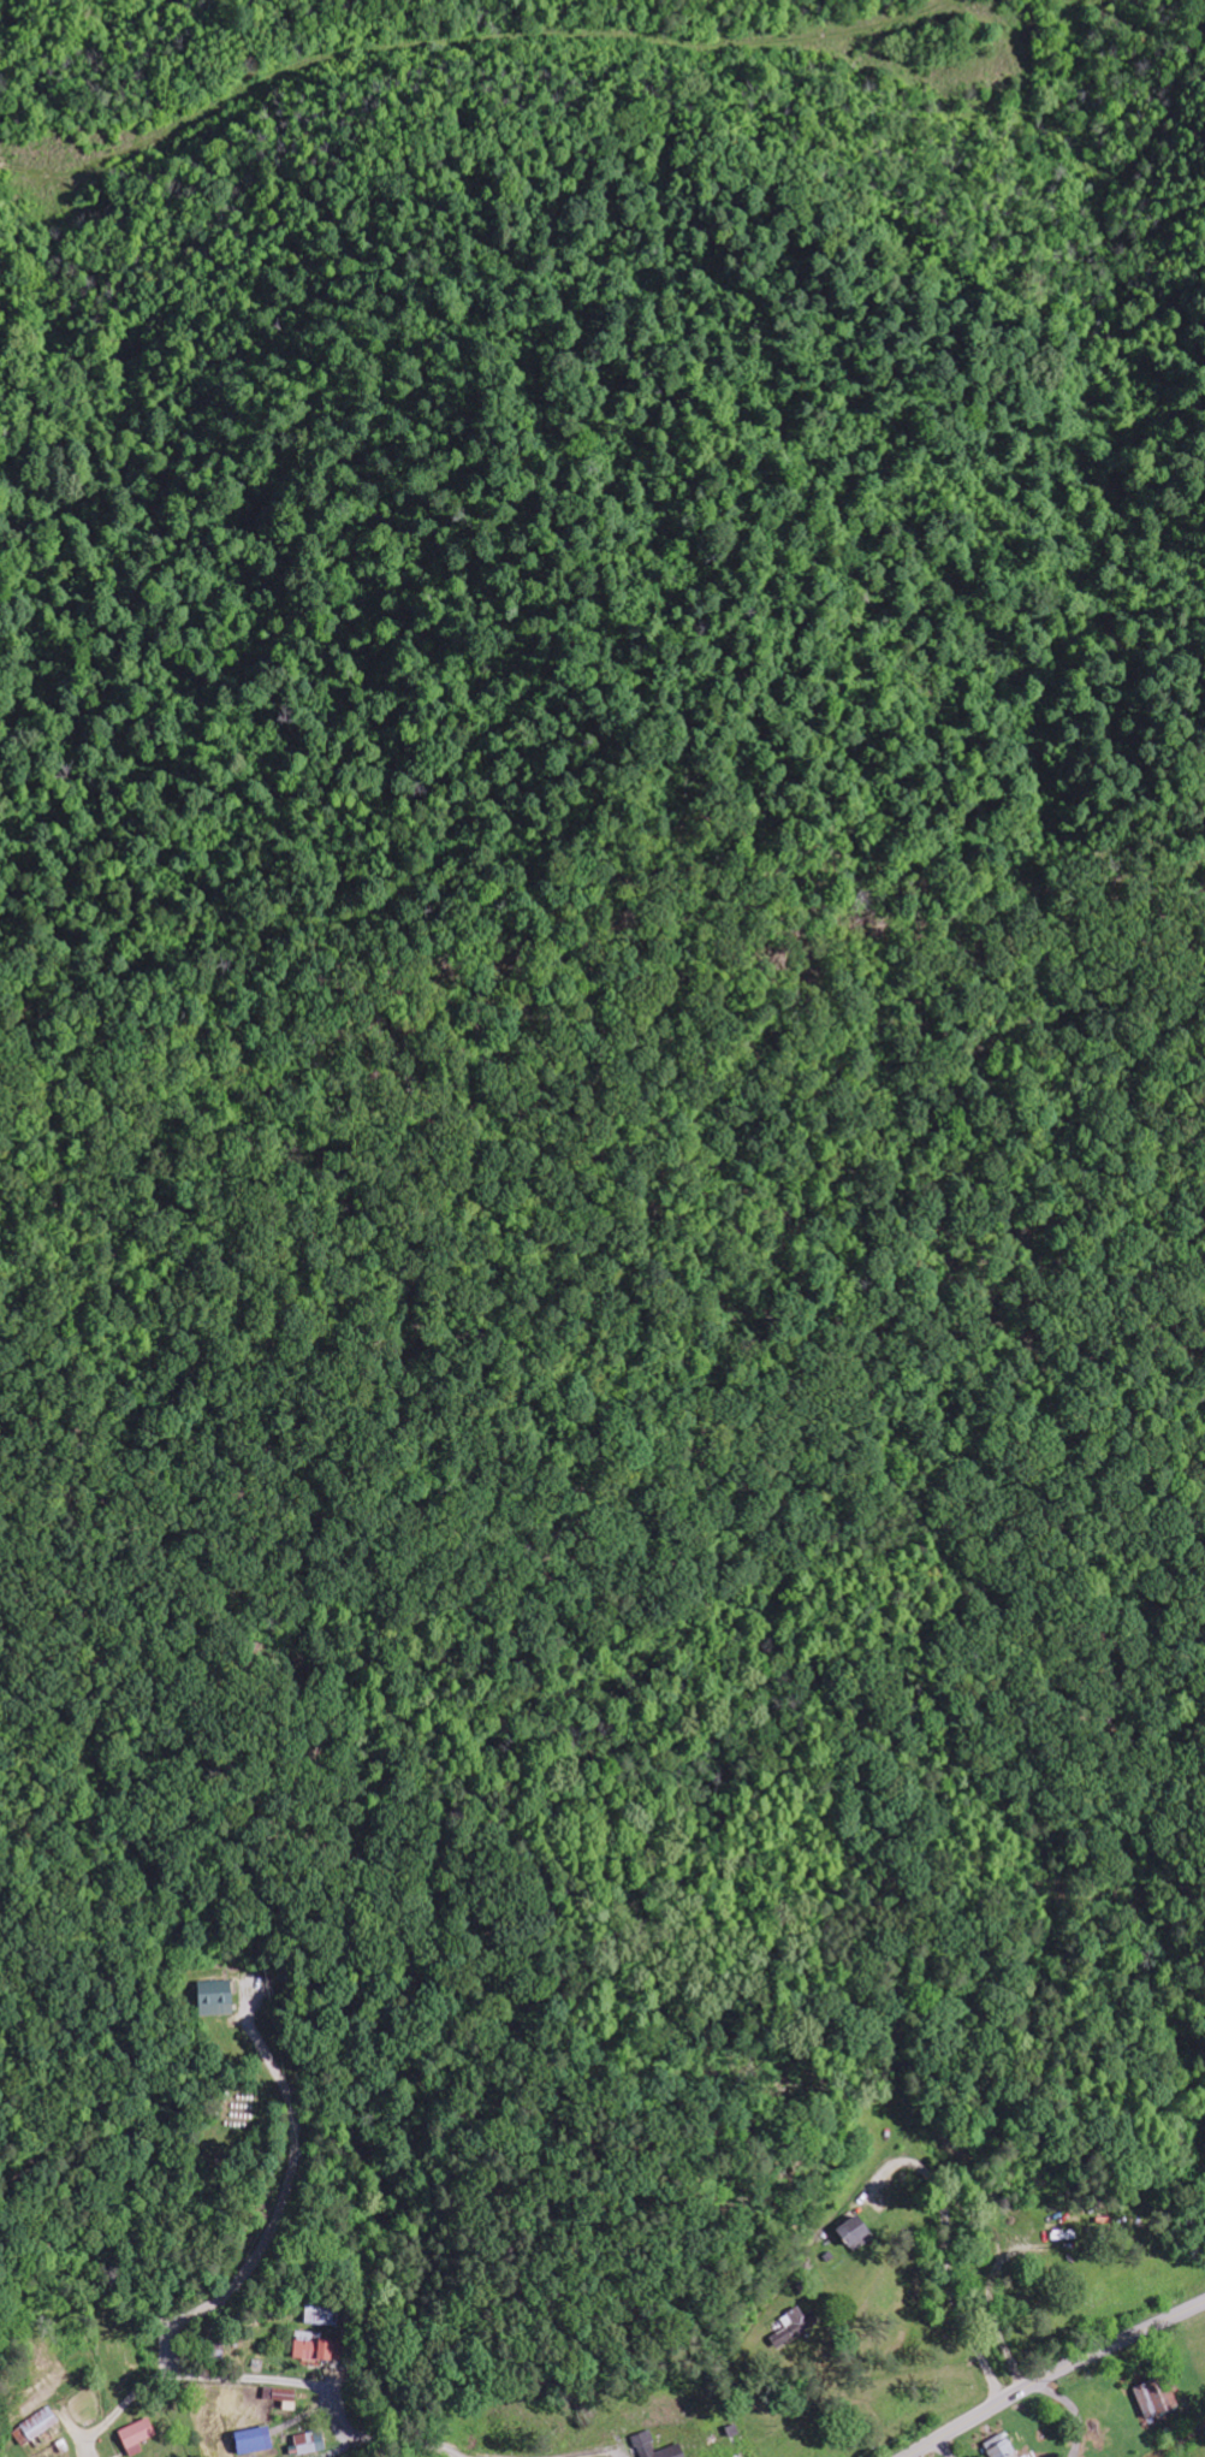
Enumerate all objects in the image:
building: (215, 1999)
road: (823, 2033)
road: (623, 2193)
road: (967, 2204)
building: (856, 2234)
building: (796, 2322)
building: (316, 2348)
road: (1055, 2374)
road: (260, 2382)
building: (1157, 2398)
building: (281, 2399)
building: (35, 2427)
building: (137, 2437)
building: (254, 2441)
building: (310, 2444)
building: (654, 2447)
building: (1001, 2447)
park: (325, 2452)
building: (1023, 2456)

